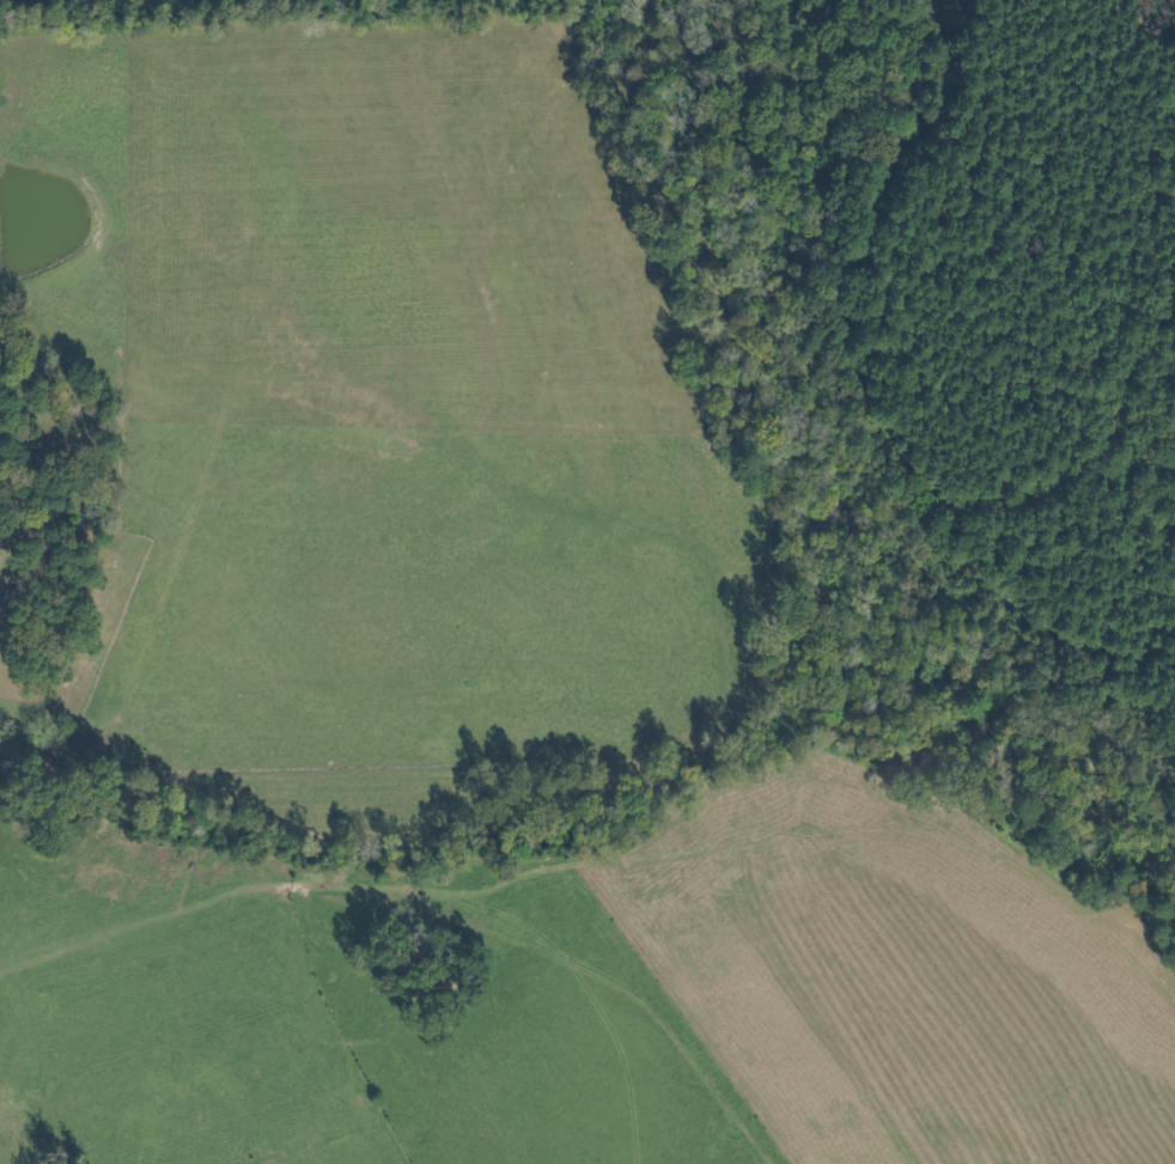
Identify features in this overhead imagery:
building: (12, 598)

